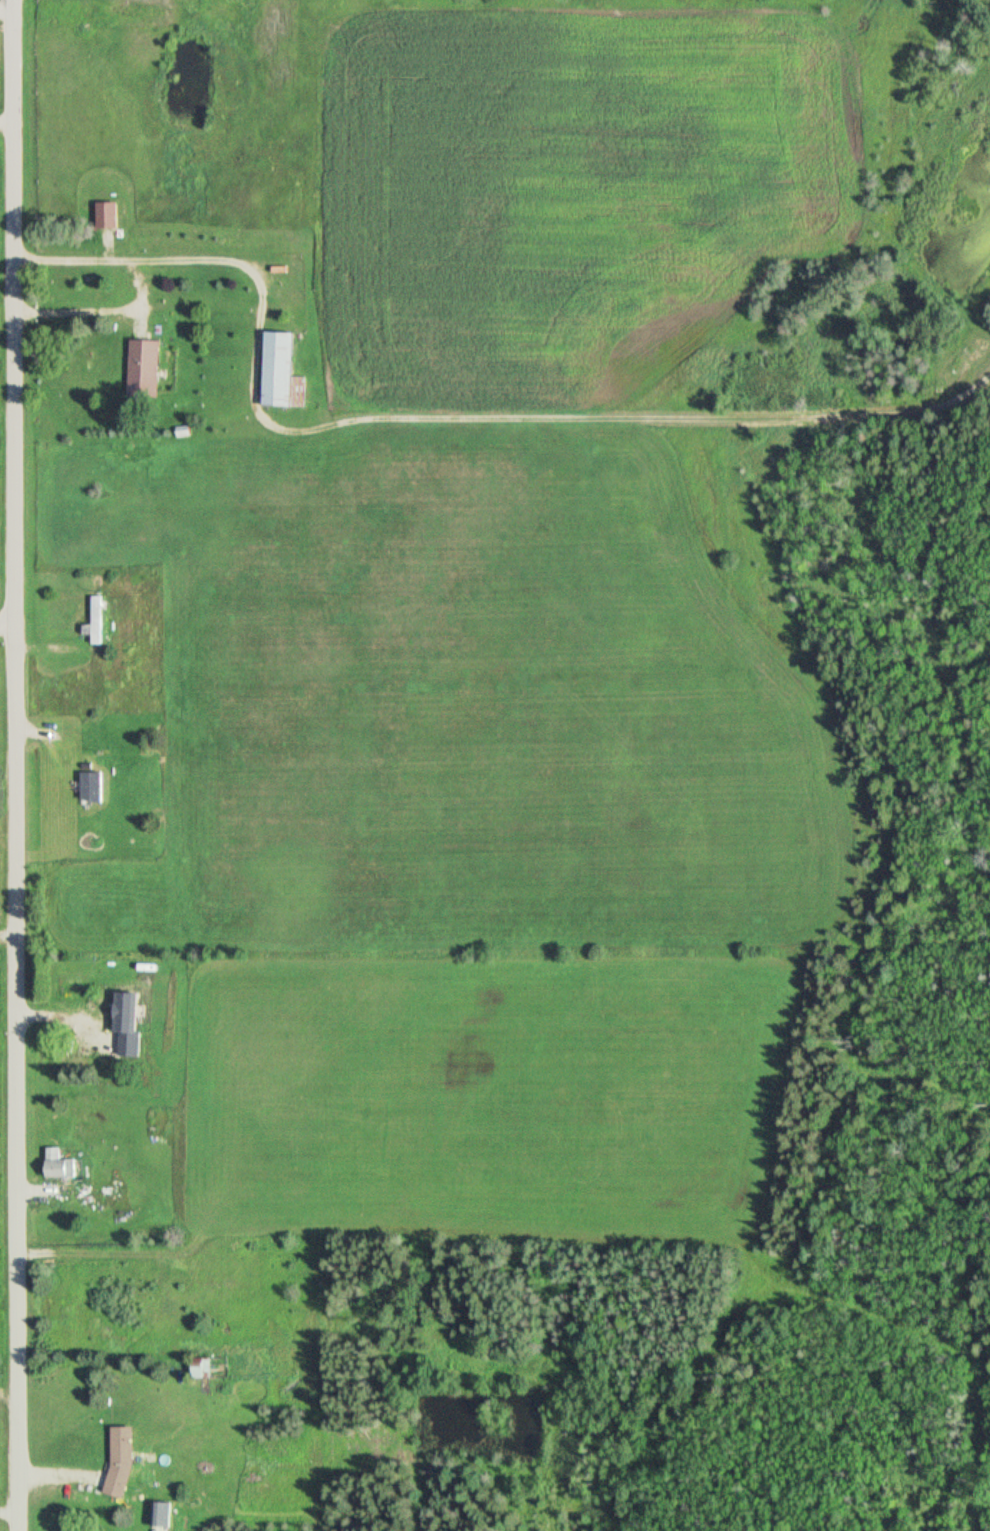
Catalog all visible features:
road: (10, 12)
road: (10, 124)
road: (82, 314)
building: (143, 369)
building: (280, 372)
road: (437, 419)
building: (95, 621)
road: (5, 626)
road: (11, 765)
building: (89, 788)
building: (86, 1036)
building: (58, 1166)
building: (121, 1461)

